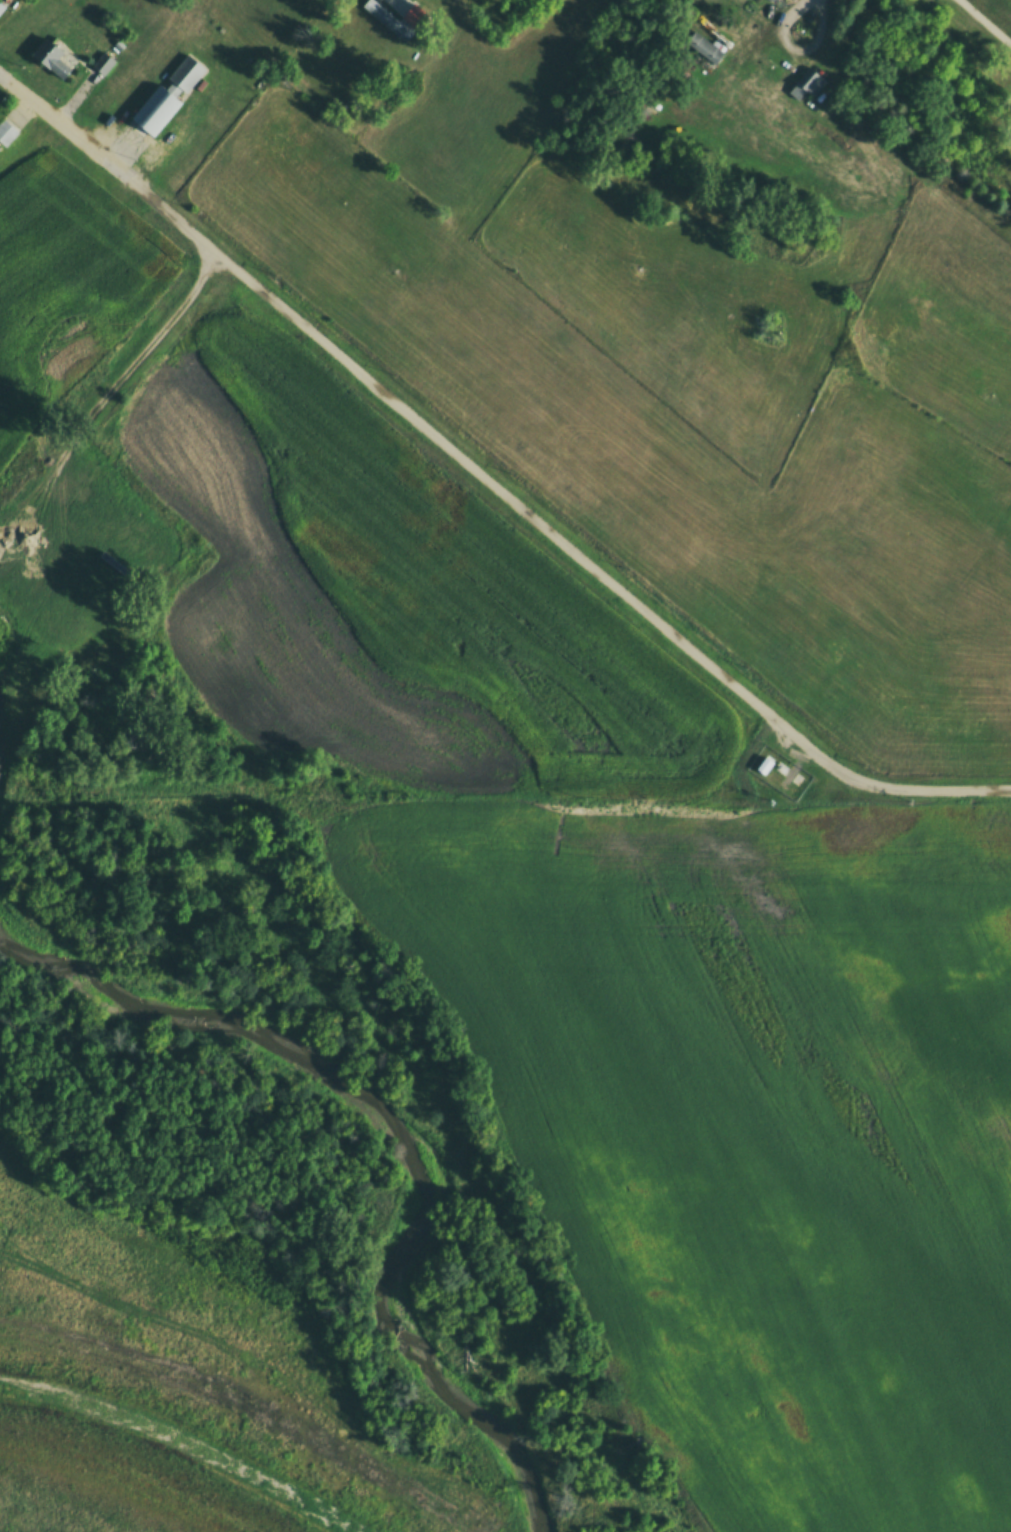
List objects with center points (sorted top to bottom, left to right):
building: (772, 1)
building: (1, 5)
building: (0, 8)
building: (417, 13)
building: (386, 18)
road: (985, 21)
building: (703, 46)
building: (50, 56)
building: (103, 61)
building: (807, 82)
building: (168, 94)
road: (29, 97)
building: (5, 130)
building: (170, 136)
road: (407, 413)
road: (824, 761)
road: (957, 791)
river: (313, 1046)

